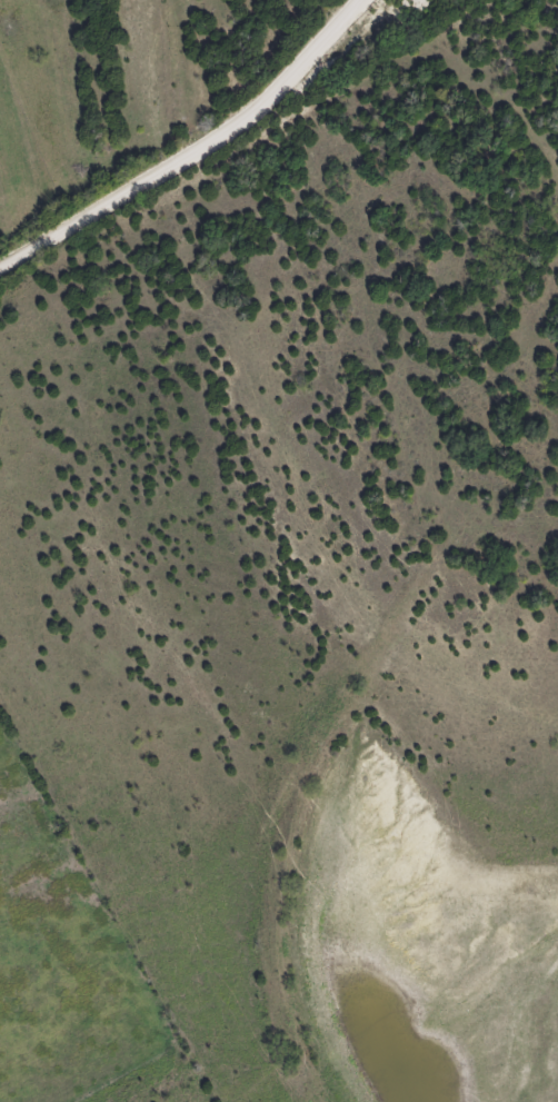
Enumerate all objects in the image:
road: (193, 145)

